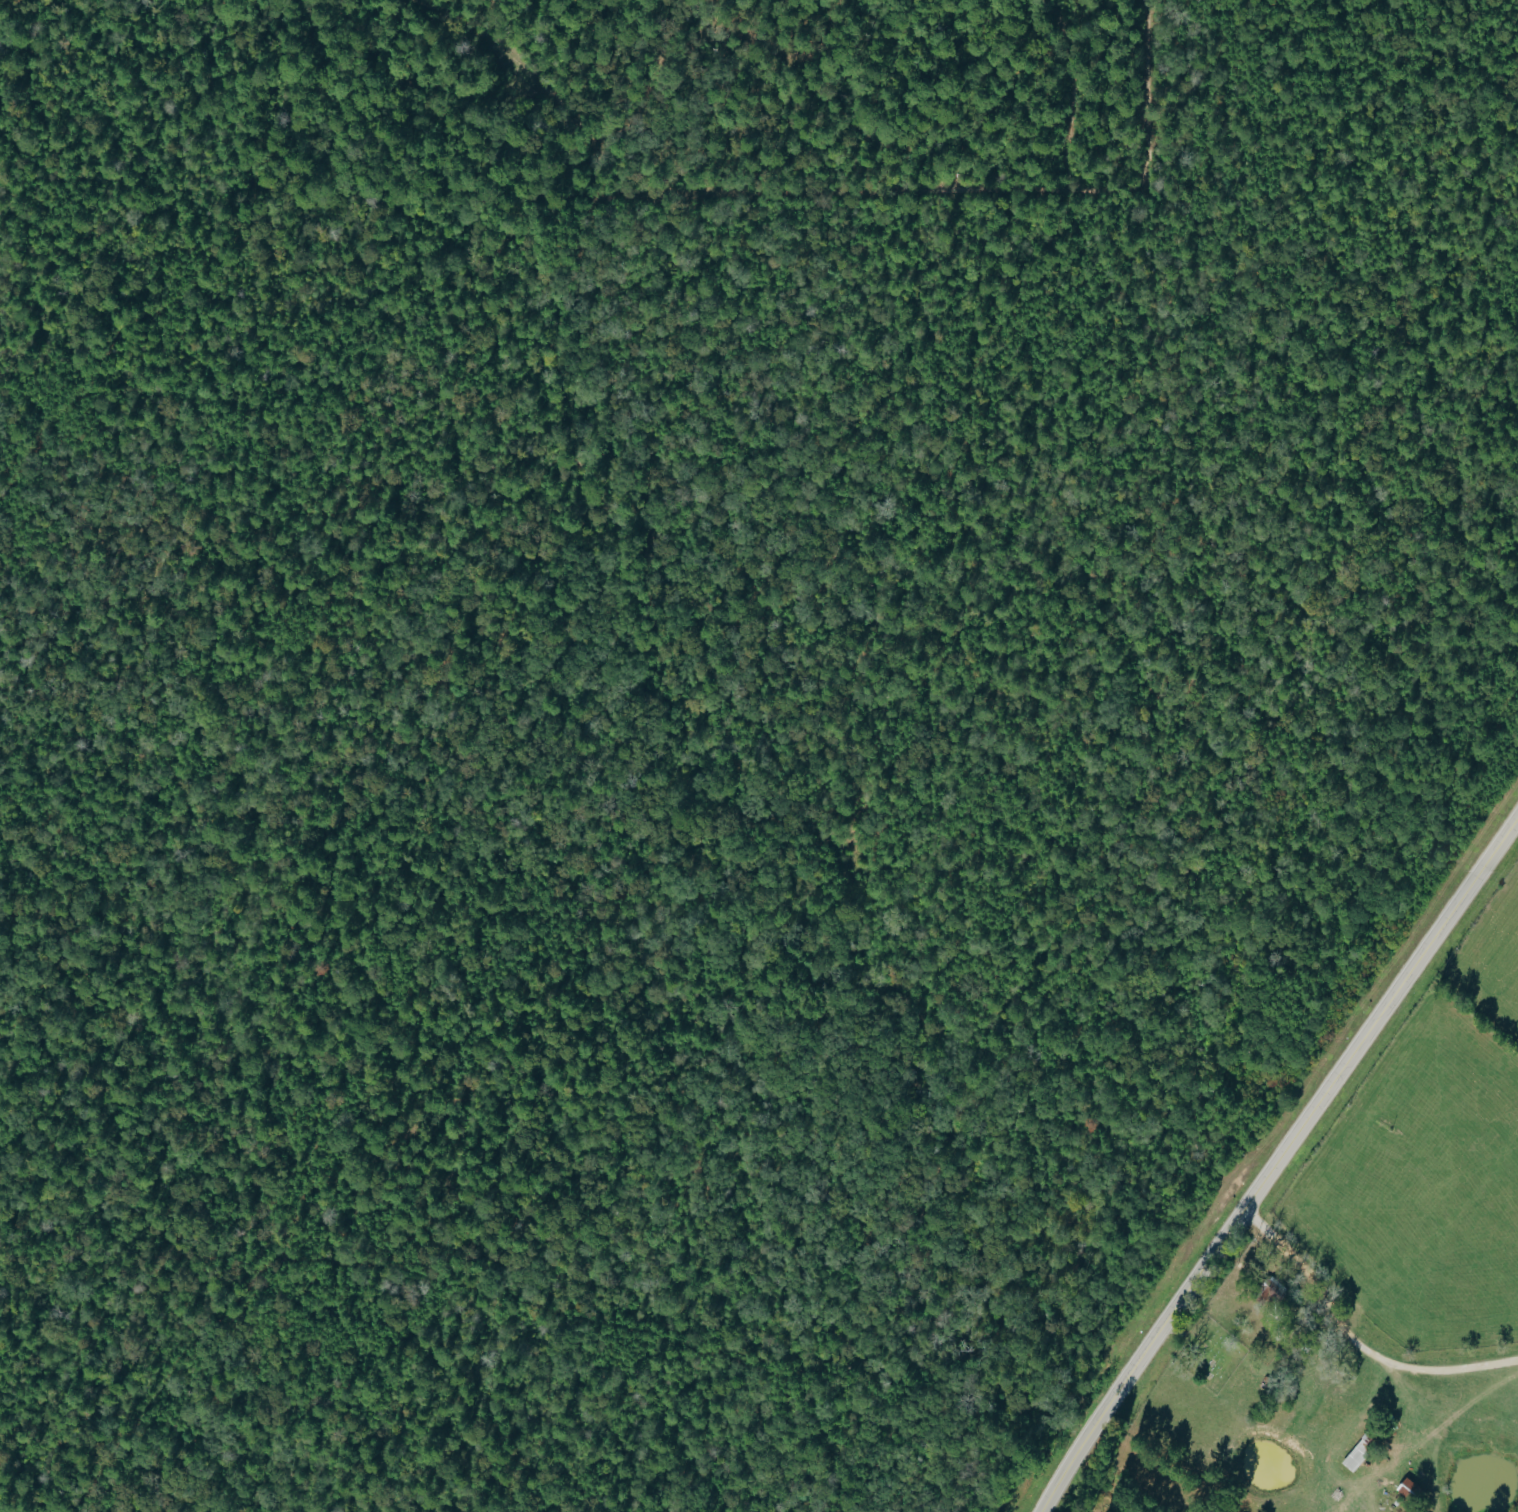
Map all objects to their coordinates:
road: (1269, 1154)
road: (1348, 1339)
park: (1205, 1354)
building: (1362, 1451)

